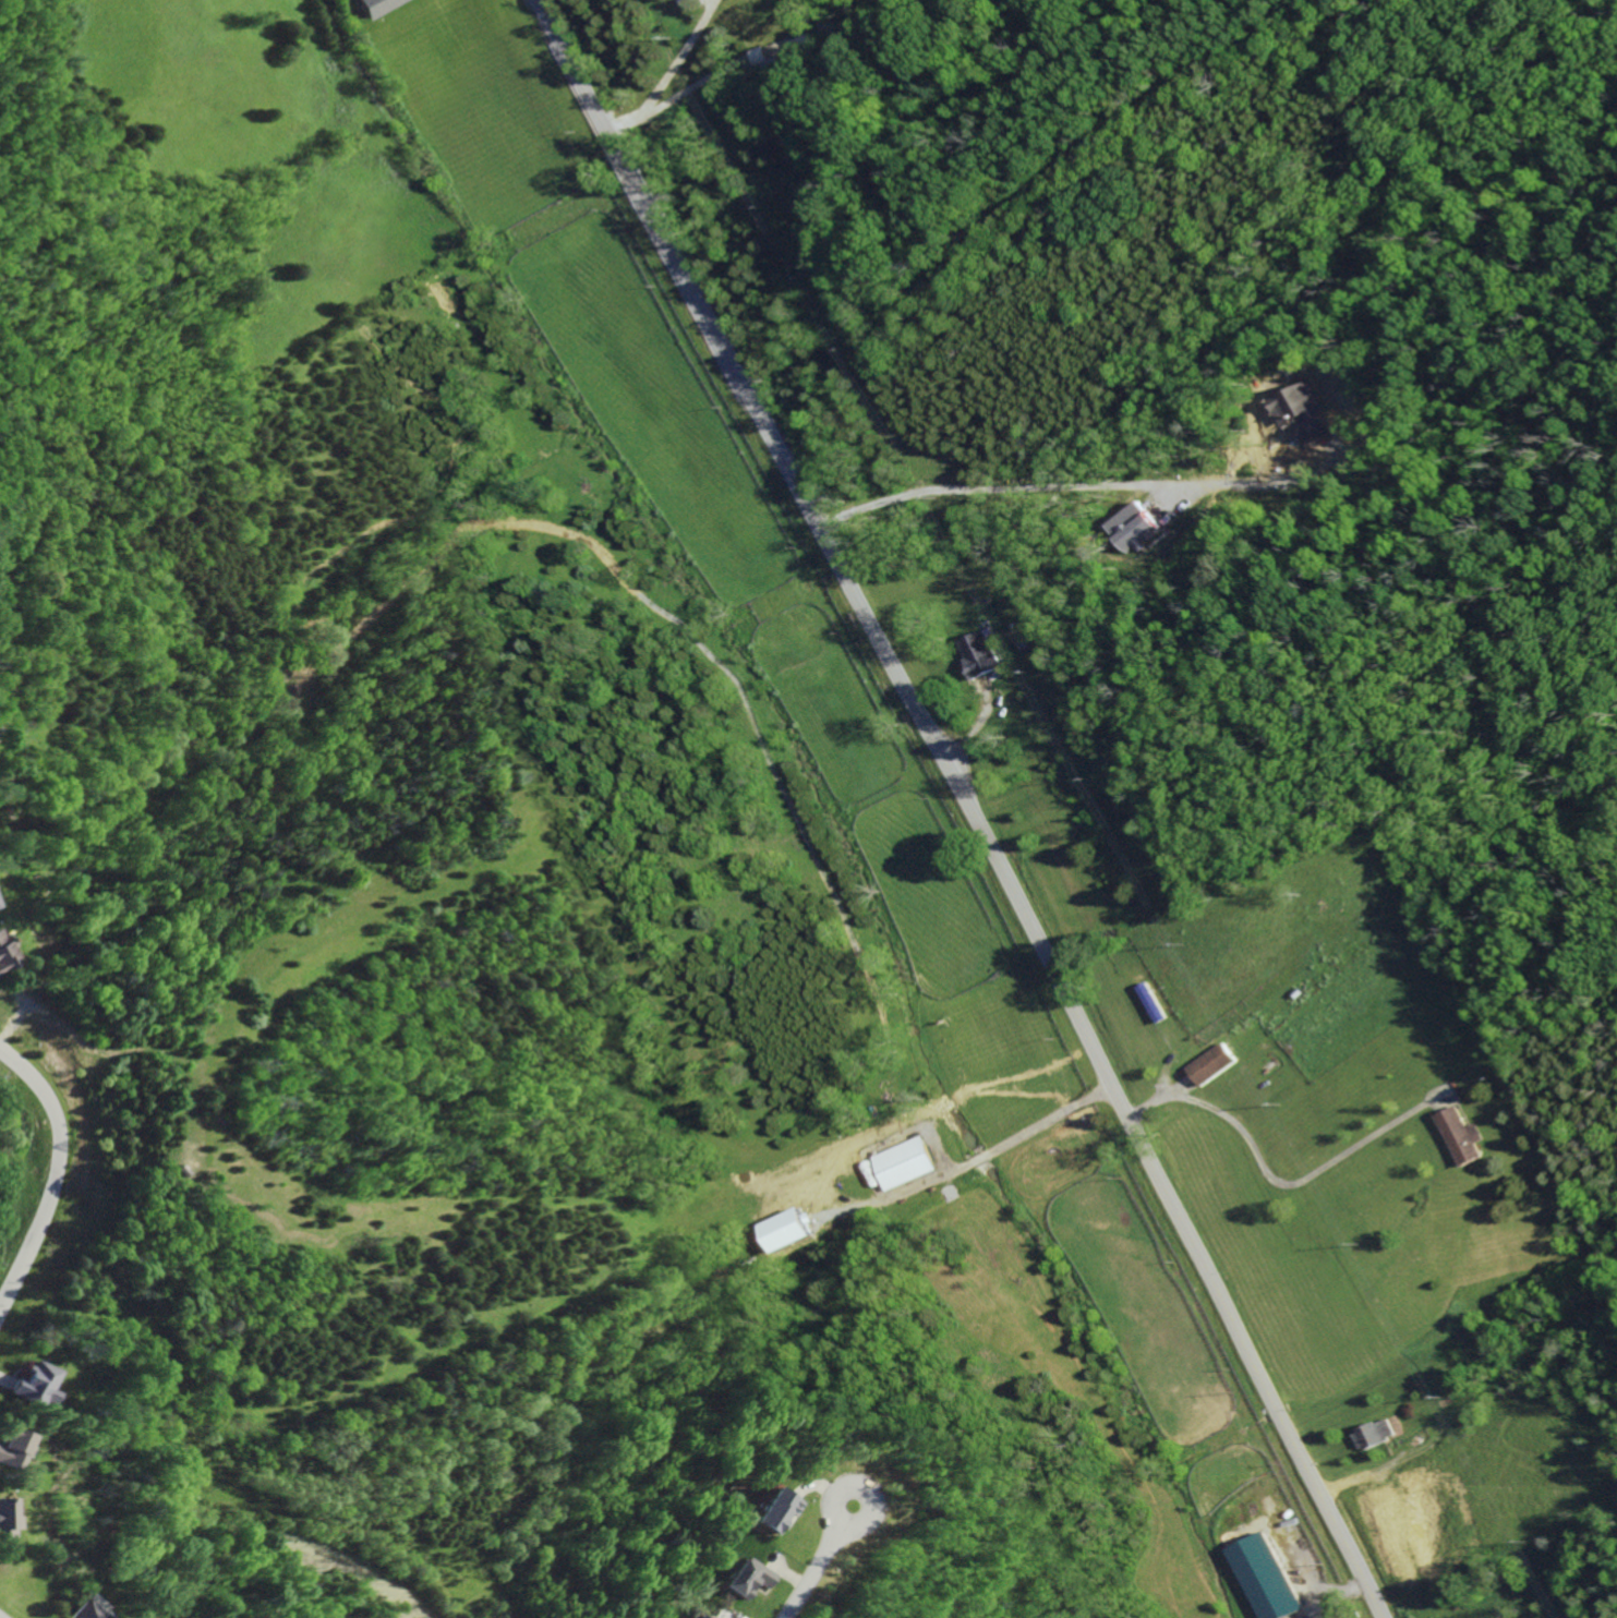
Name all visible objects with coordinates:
building: (373, 7)
road: (669, 74)
road: (991, 486)
building: (1133, 527)
building: (978, 654)
road: (967, 804)
building: (2, 959)
building: (1211, 1064)
road: (1051, 1119)
building: (1463, 1137)
road: (980, 1157)
building: (906, 1163)
road: (953, 1169)
road: (57, 1173)
road: (1269, 1182)
building: (25, 1385)
building: (1375, 1434)
building: (7, 1448)
building: (770, 1510)
building: (1, 1522)
road: (847, 1529)
road: (809, 1572)
building: (741, 1578)
building: (1266, 1578)
building: (81, 1611)
building: (700, 1617)
building: (1310, 1617)

